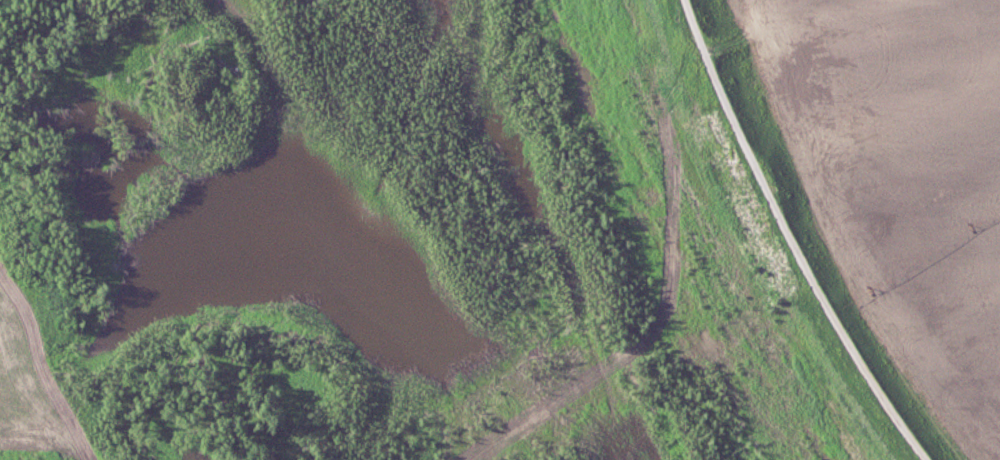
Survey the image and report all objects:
road: (790, 238)

